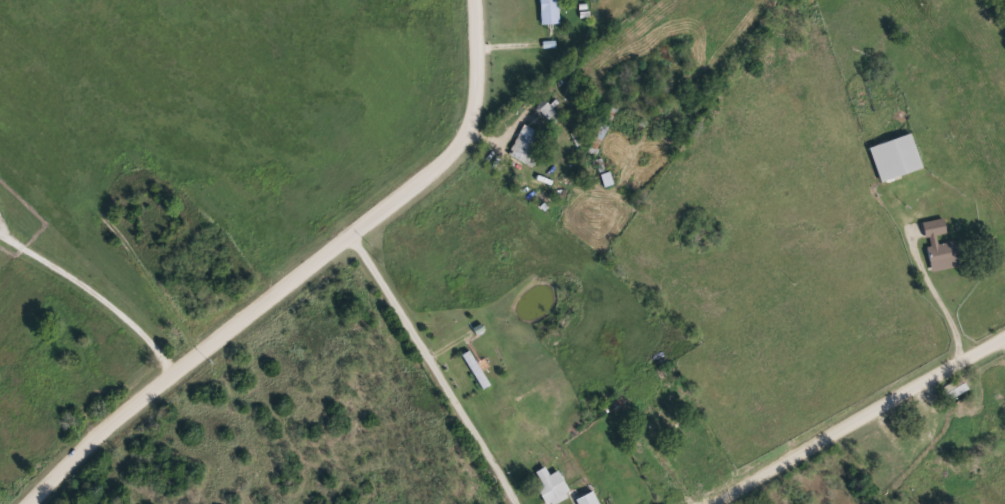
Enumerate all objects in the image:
building: (549, 11)
road: (456, 137)
building: (527, 144)
building: (896, 157)
building: (531, 189)
building: (939, 245)
road: (927, 272)
road: (152, 275)
road: (94, 288)
road: (178, 363)
road: (437, 365)
road: (848, 414)
building: (658, 419)
building: (560, 487)

